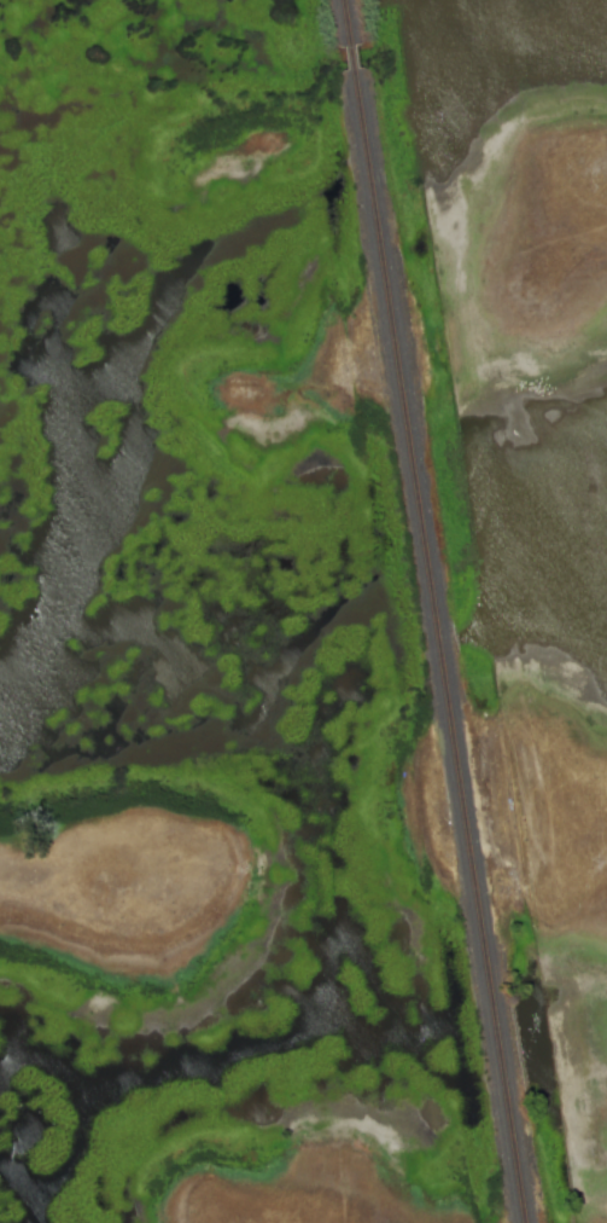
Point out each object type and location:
railway: (350, 24)
railway: (356, 60)
railway: (443, 648)

